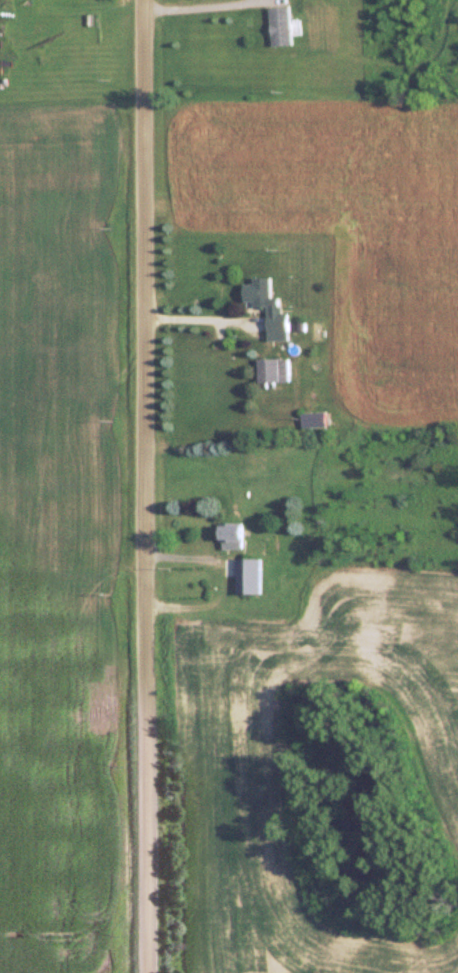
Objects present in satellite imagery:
road: (197, 5)
building: (279, 26)
building: (266, 305)
road: (208, 330)
building: (274, 370)
building: (313, 420)
road: (147, 486)
building: (231, 536)

